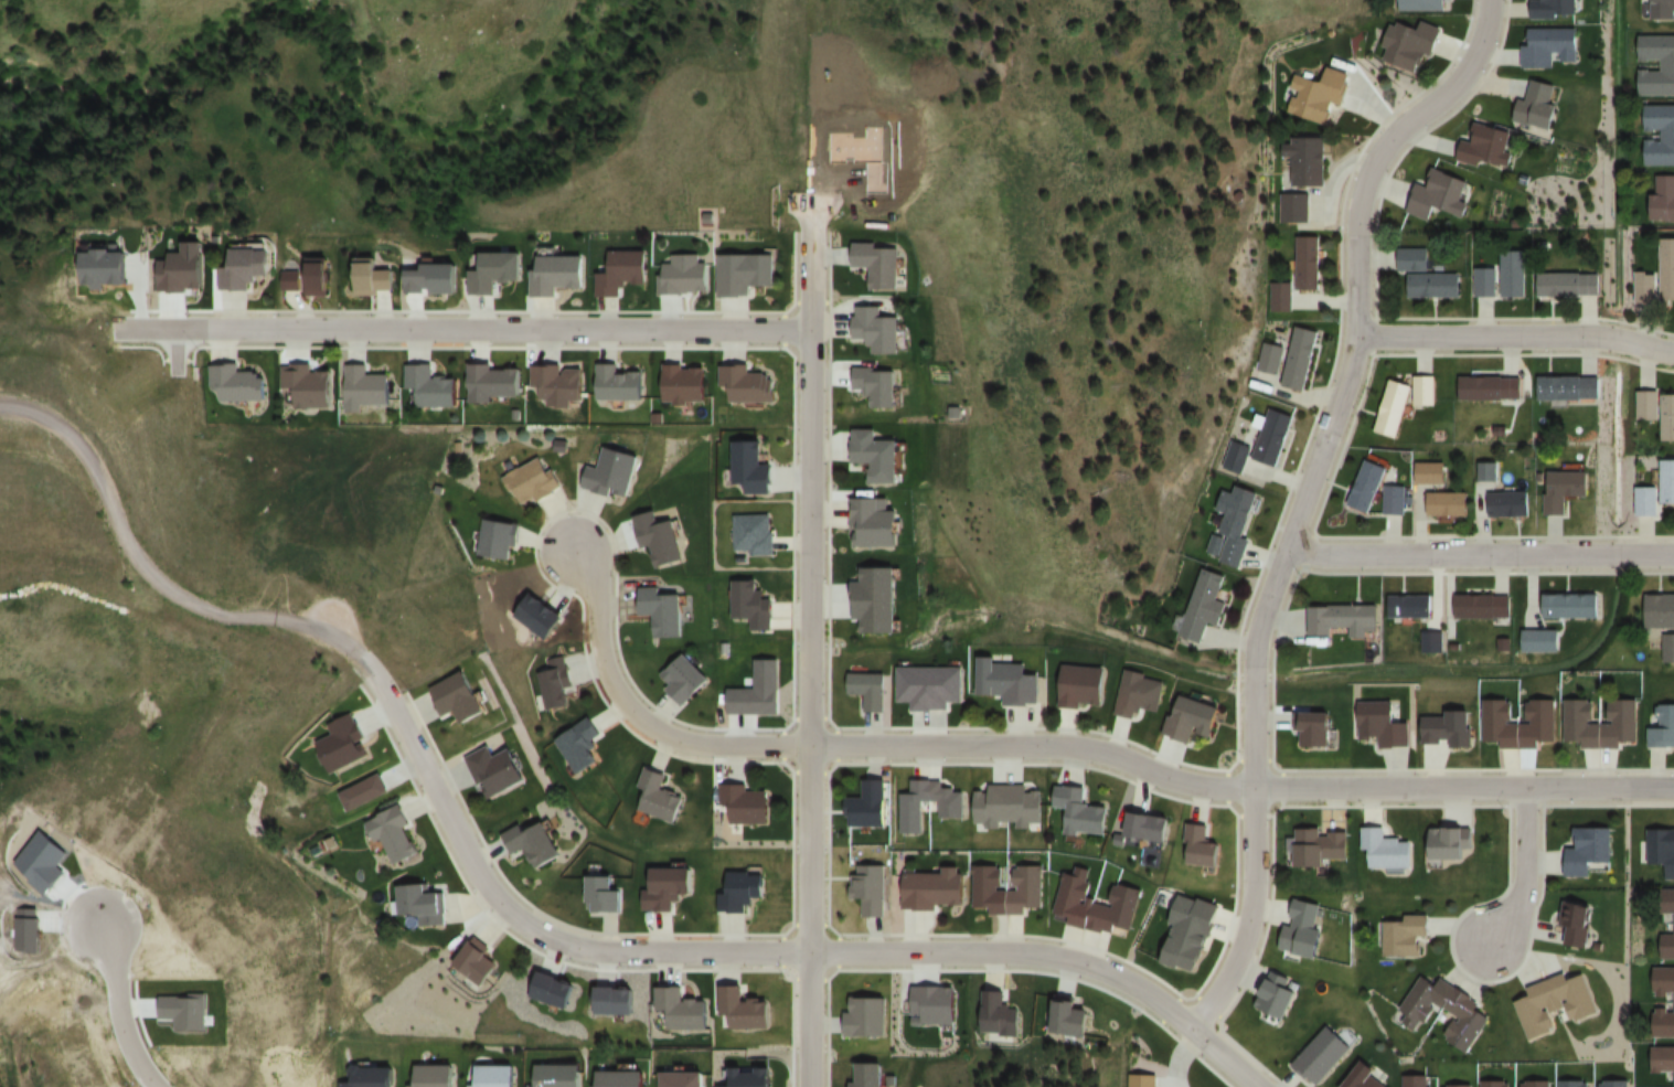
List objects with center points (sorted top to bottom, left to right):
building: (1424, 4)
building: (1553, 9)
building: (1663, 10)
building: (1410, 45)
building: (1550, 47)
building: (1667, 66)
building: (1320, 96)
building: (1538, 106)
building: (1667, 137)
building: (1489, 148)
building: (1304, 163)
building: (1441, 196)
building: (1663, 200)
building: (1293, 209)
building: (1309, 264)
building: (878, 266)
building: (1668, 270)
building: (247, 271)
building: (493, 273)
building: (623, 274)
building: (746, 274)
building: (1514, 275)
building: (557, 276)
building: (319, 277)
building: (1427, 277)
building: (292, 278)
building: (375, 278)
building: (1484, 283)
road: (1374, 285)
building: (1569, 286)
building: (1646, 289)
building: (1280, 297)
road: (457, 327)
building: (877, 329)
road: (1511, 330)
building: (1301, 356)
building: (1270, 358)
building: (241, 382)
building: (497, 382)
building: (619, 383)
building: (685, 383)
building: (749, 383)
building: (310, 384)
building: (561, 384)
building: (877, 384)
building: (434, 385)
building: (367, 387)
building: (1569, 387)
building: (1493, 388)
building: (1424, 390)
building: (1649, 404)
building: (1393, 407)
building: (1667, 416)
building: (1273, 436)
building: (877, 454)
building: (1236, 456)
building: (754, 467)
building: (1488, 471)
building: (612, 472)
building: (1431, 472)
building: (532, 480)
building: (1668, 480)
building: (1367, 484)
building: (1564, 489)
road: (1309, 499)
building: (1396, 499)
building: (1648, 501)
building: (1448, 503)
building: (1511, 503)
building: (875, 522)
building: (1237, 522)
building: (753, 534)
building: (498, 537)
building: (660, 540)
road: (1481, 557)
road: (149, 572)
building: (875, 598)
building: (754, 605)
building: (1205, 605)
building: (1571, 605)
building: (1414, 606)
building: (1484, 606)
building: (664, 610)
building: (1659, 610)
building: (1343, 618)
building: (1540, 640)
building: (1667, 648)
road: (808, 650)
building: (684, 678)
building: (1009, 682)
building: (554, 684)
building: (930, 686)
building: (1081, 686)
building: (870, 690)
building: (1139, 694)
building: (461, 696)
road: (635, 711)
building: (1192, 718)
building: (1520, 723)
building: (1601, 723)
building: (1383, 725)
building: (1661, 726)
building: (1315, 727)
building: (1448, 728)
building: (348, 743)
building: (580, 745)
building: (499, 770)
road: (1237, 787)
building: (364, 792)
building: (659, 796)
building: (746, 804)
building: (1009, 804)
building: (868, 806)
building: (1081, 811)
building: (1150, 825)
building: (395, 833)
building: (536, 843)
building: (1203, 844)
building: (1450, 844)
building: (1321, 846)
building: (1386, 849)
building: (1589, 850)
building: (1662, 850)
road: (1517, 873)
building: (669, 888)
building: (871, 888)
building: (1007, 888)
building: (742, 889)
building: (936, 889)
building: (605, 893)
building: (1667, 900)
building: (423, 903)
building: (1097, 903)
building: (1578, 923)
building: (1304, 928)
building: (1191, 933)
building: (1405, 935)
building: (1667, 945)
road: (753, 955)
building: (476, 962)
building: (1664, 981)
building: (1277, 994)
building: (1555, 1003)
building: (681, 1009)
road: (126, 1010)
building: (744, 1010)
building: (1472, 1013)
building: (999, 1014)
building: (866, 1015)
building: (1664, 1023)
building: (1323, 1054)
building: (1663, 1058)
building: (866, 1074)
building: (438, 1076)
building: (498, 1076)
building: (1366, 1078)
building: (683, 1079)
building: (1415, 1081)
building: (1495, 1084)
building: (1531, 1084)
building: (1575, 1084)
building: (1610, 1084)
building: (1452, 1086)

